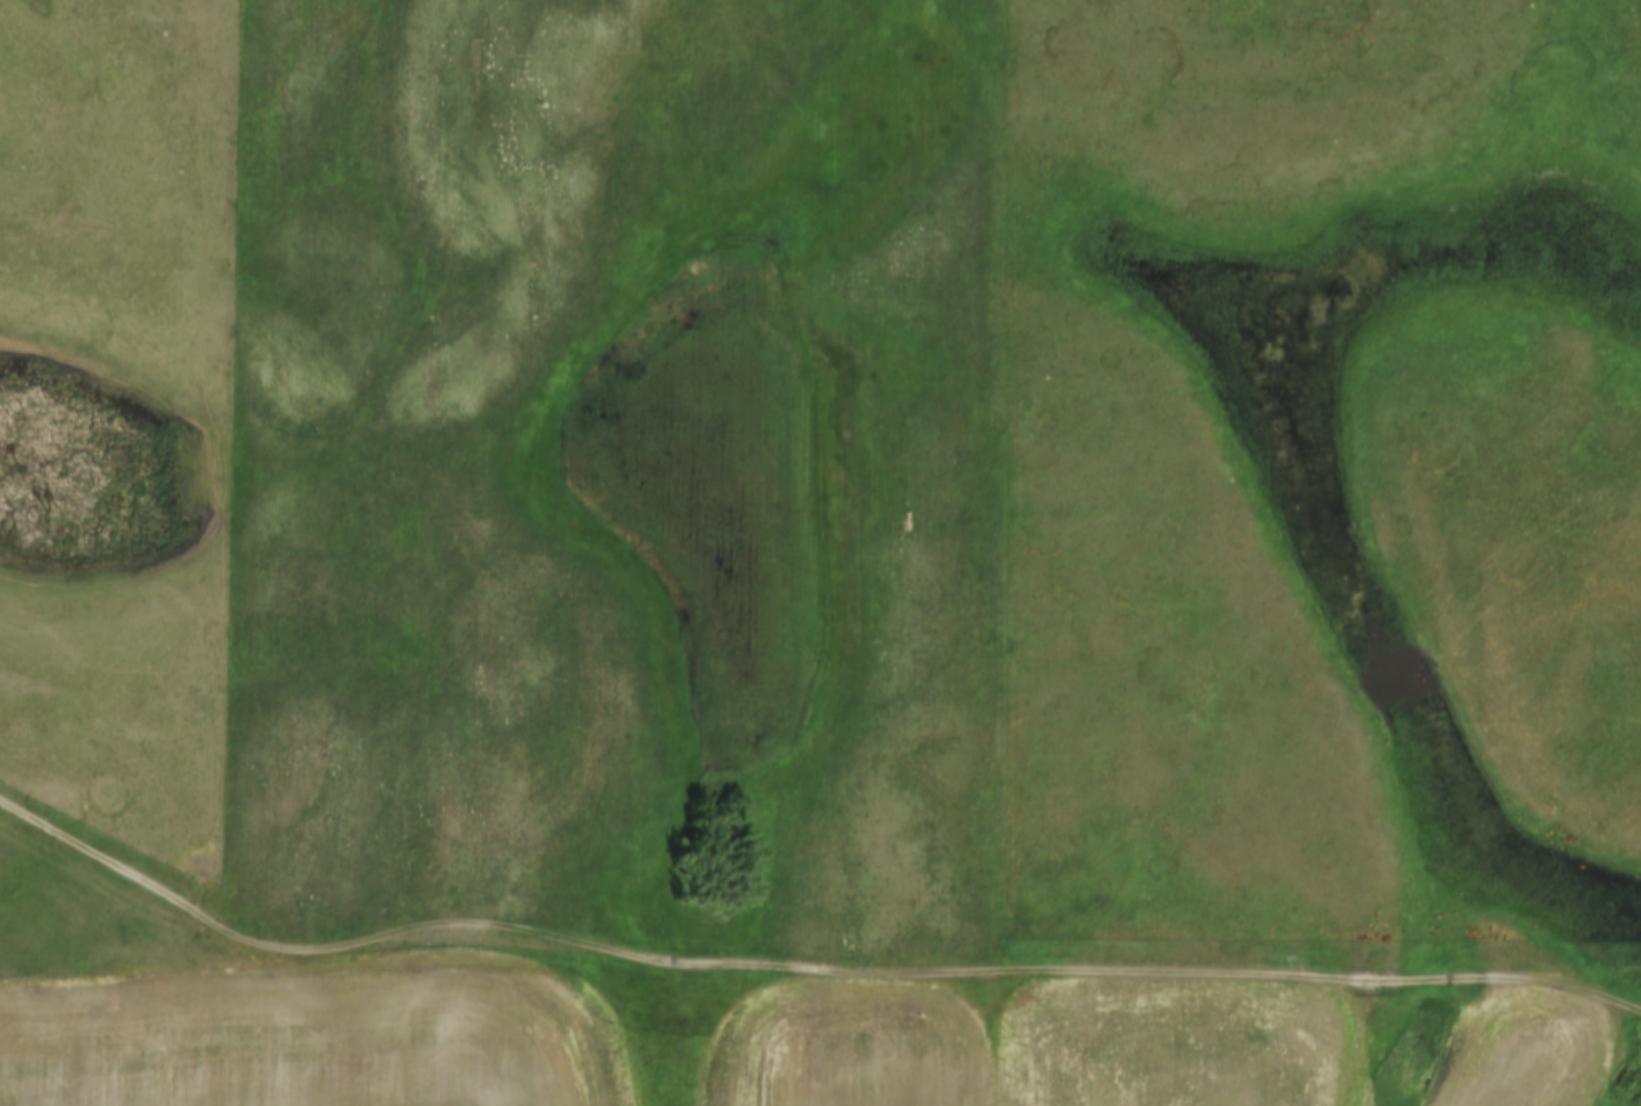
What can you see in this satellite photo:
road: (1003, 553)
road: (800, 969)

